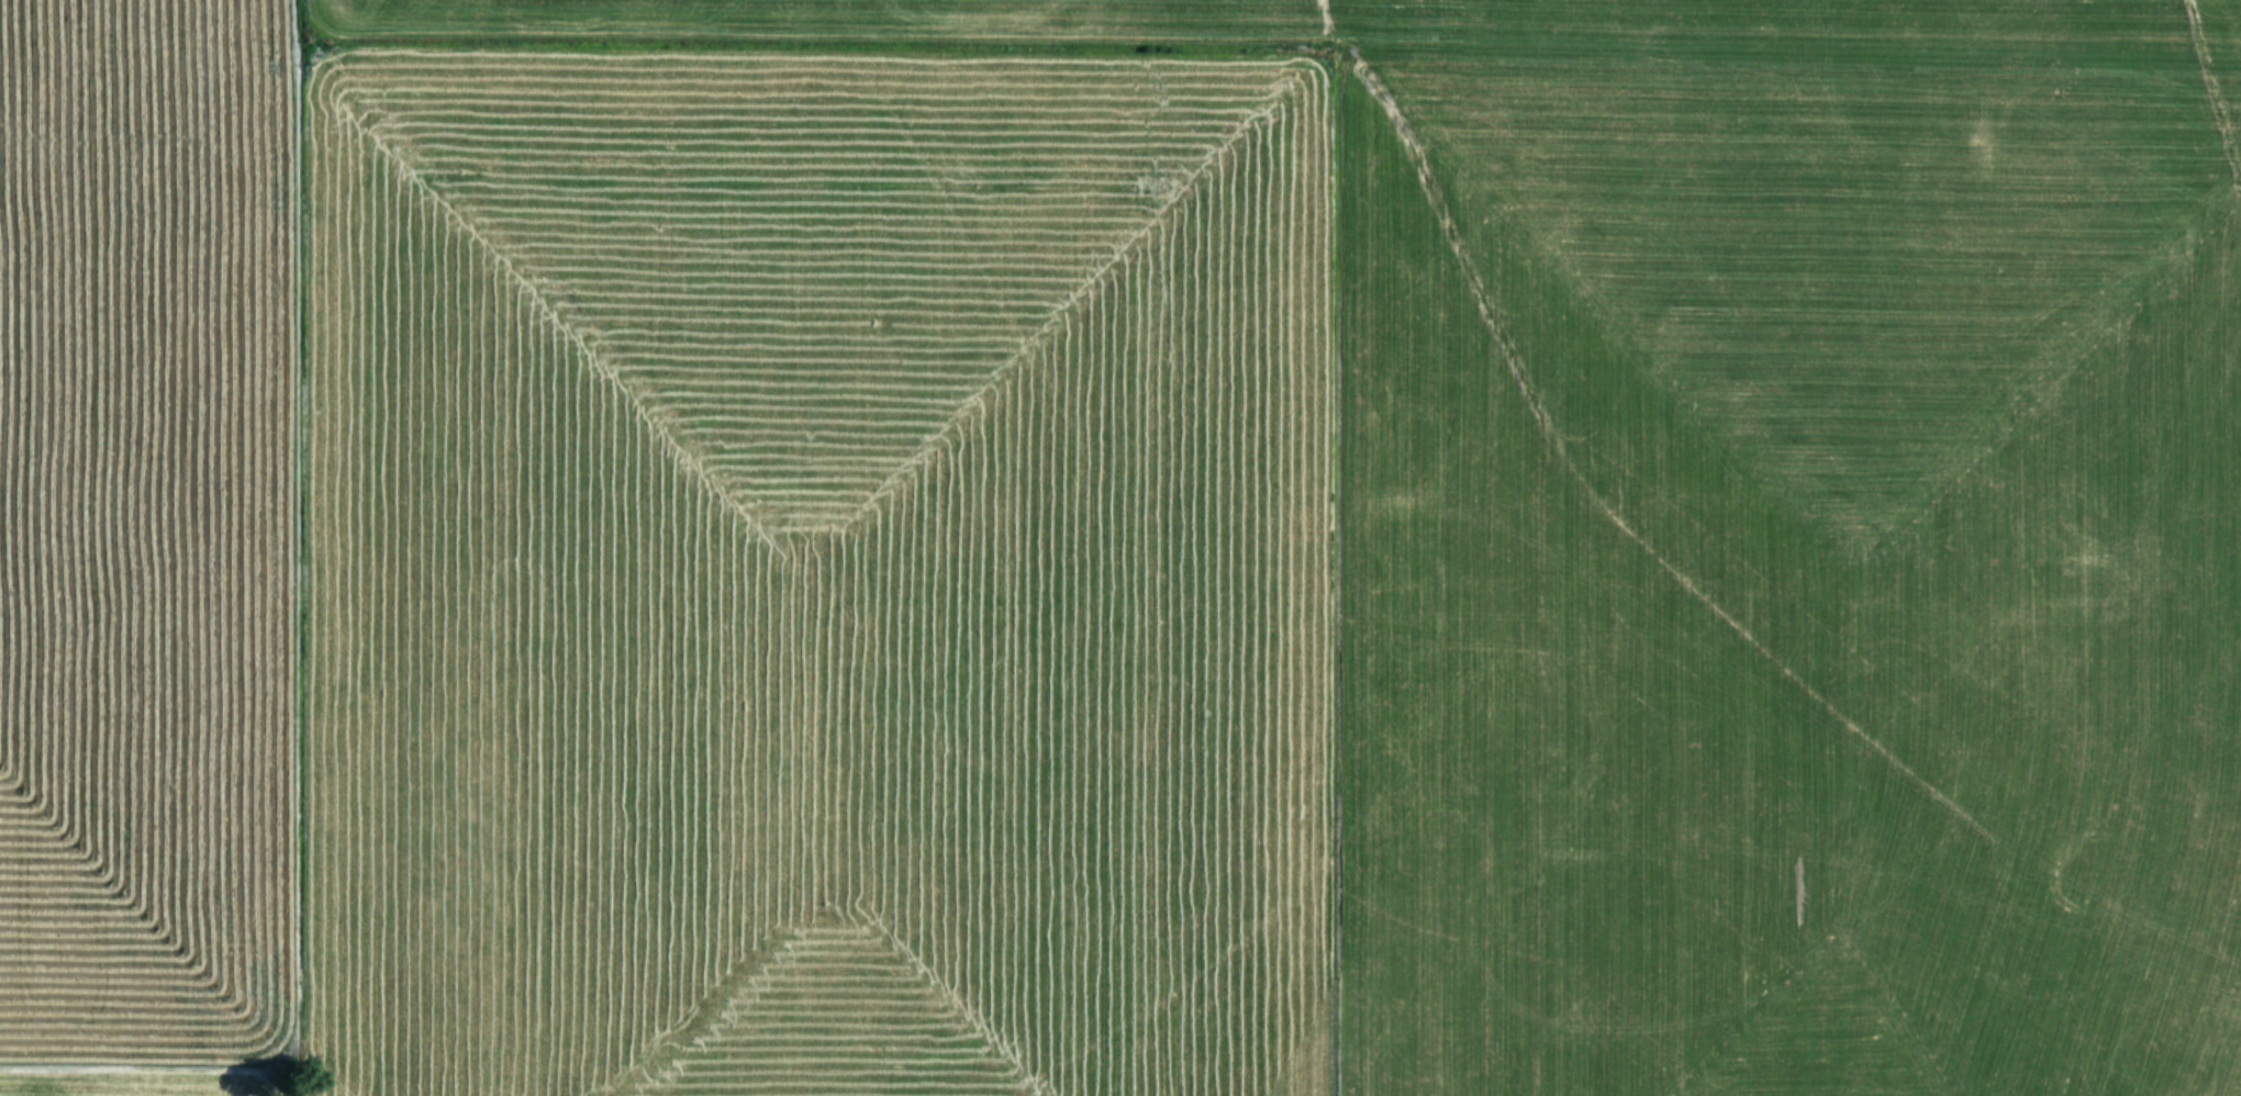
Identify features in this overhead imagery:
crop: (1120, 548)

